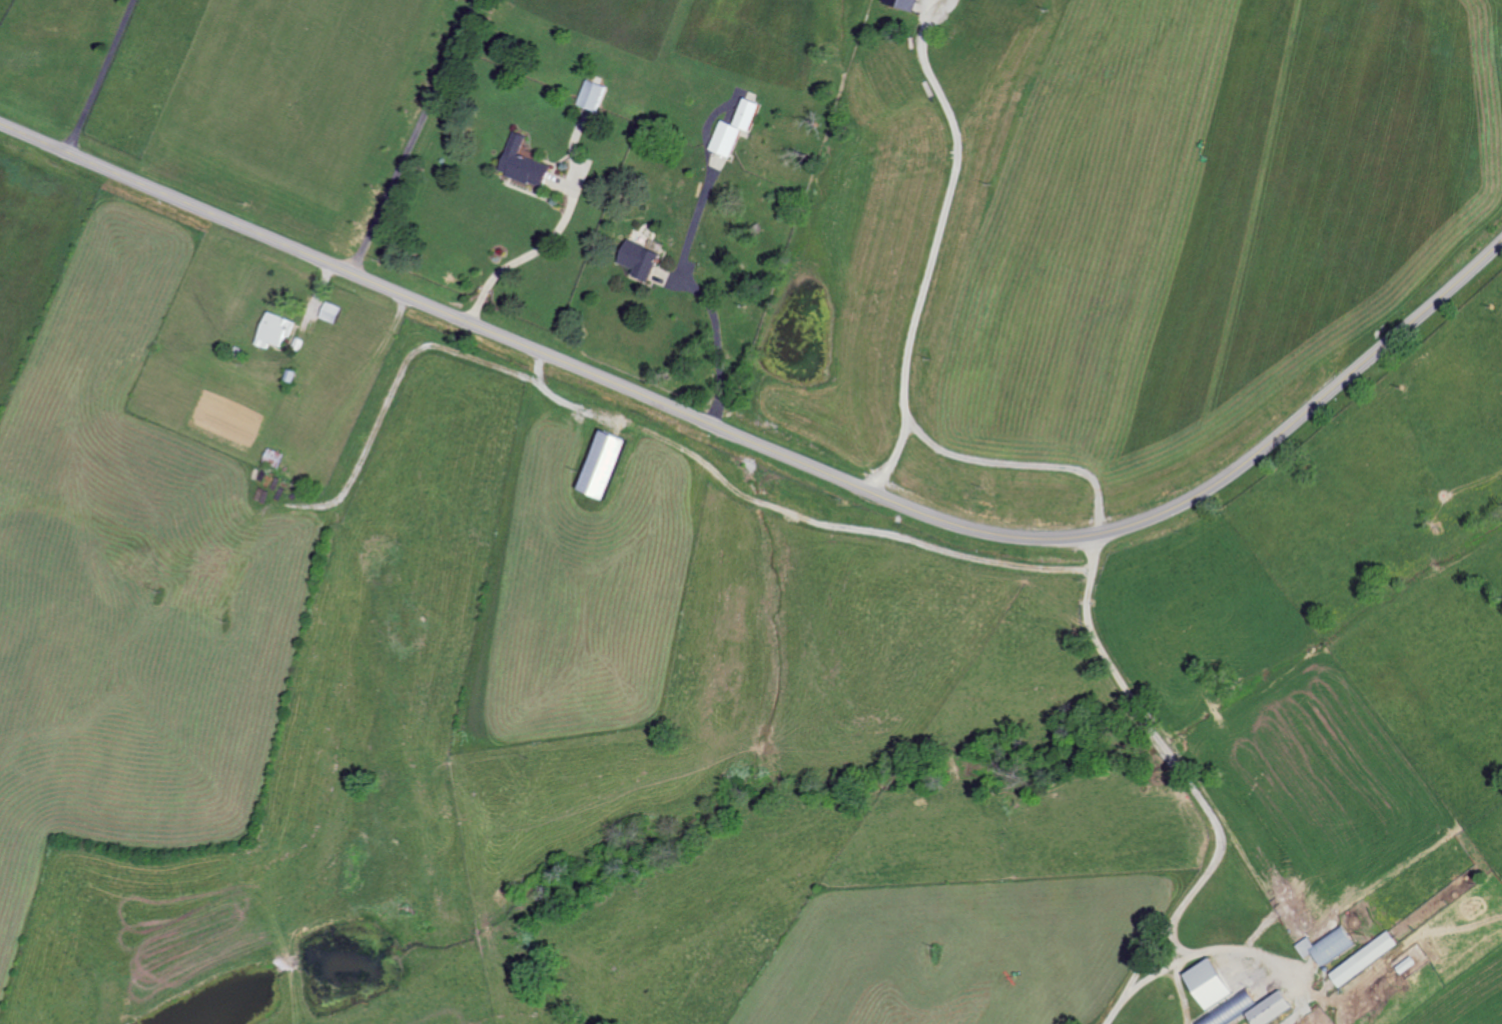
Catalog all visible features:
building: (903, 4)
road: (97, 75)
building: (591, 95)
building: (735, 128)
road: (413, 136)
building: (523, 164)
road: (924, 244)
road: (526, 254)
building: (640, 260)
road: (699, 291)
building: (332, 312)
building: (275, 330)
road: (415, 348)
road: (775, 451)
road: (1012, 462)
building: (601, 465)
road: (797, 517)
road: (1189, 785)
building: (1327, 945)
road: (1204, 949)
building: (1365, 958)
building: (1209, 983)
building: (1270, 1008)
building: (1233, 1010)

